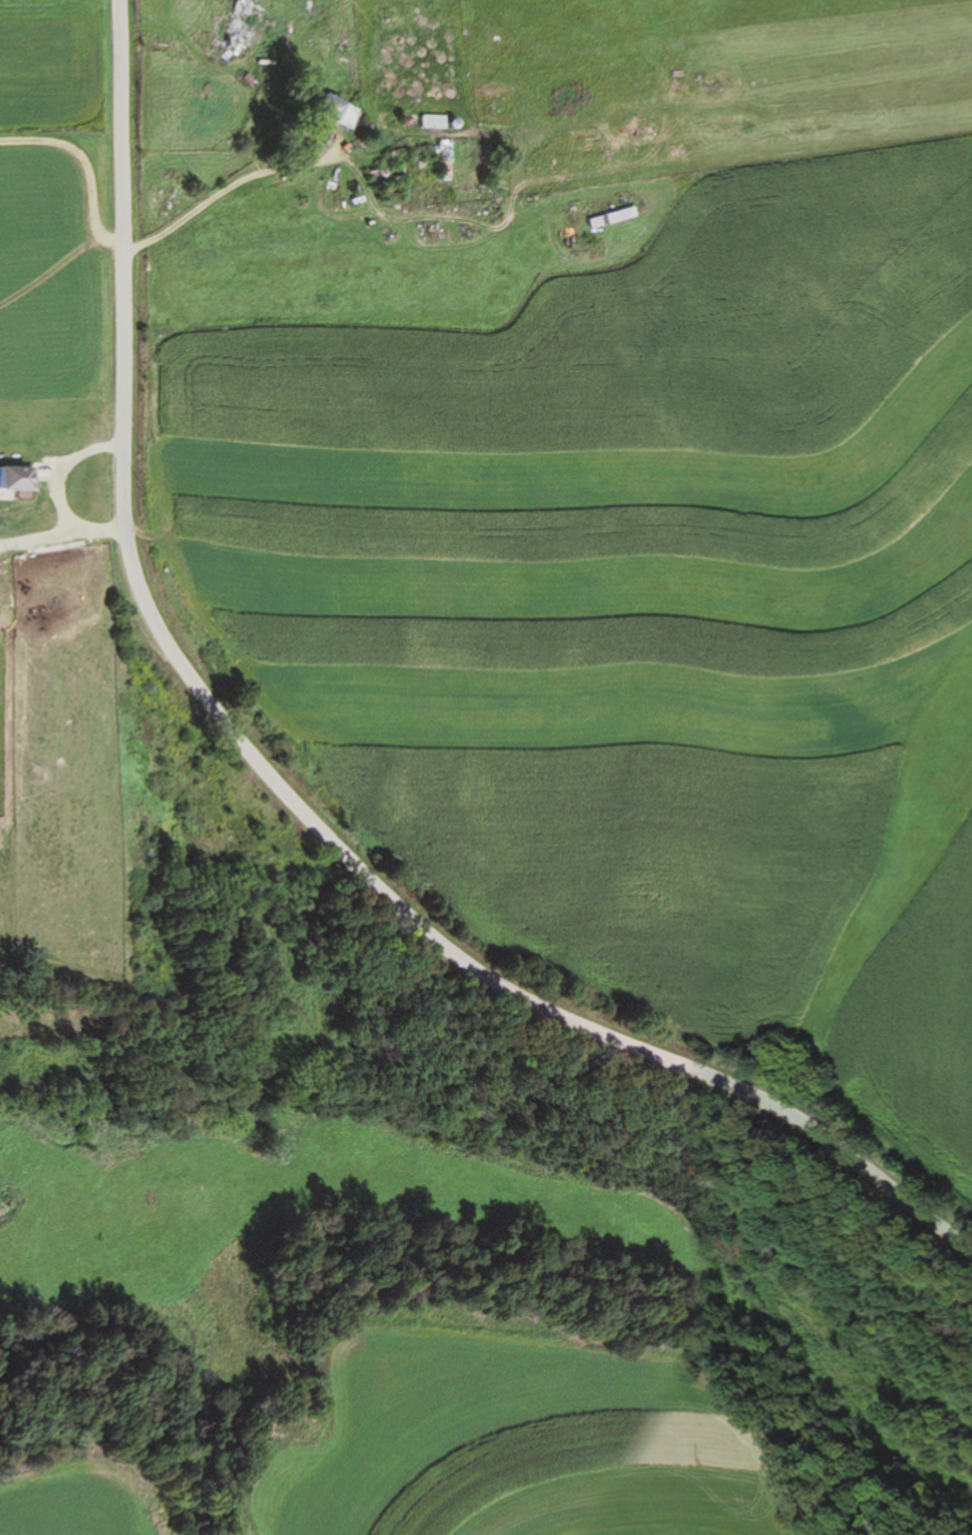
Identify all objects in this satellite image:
building: (236, 31)
building: (338, 112)
building: (431, 123)
building: (612, 219)
building: (18, 480)
road: (268, 799)

